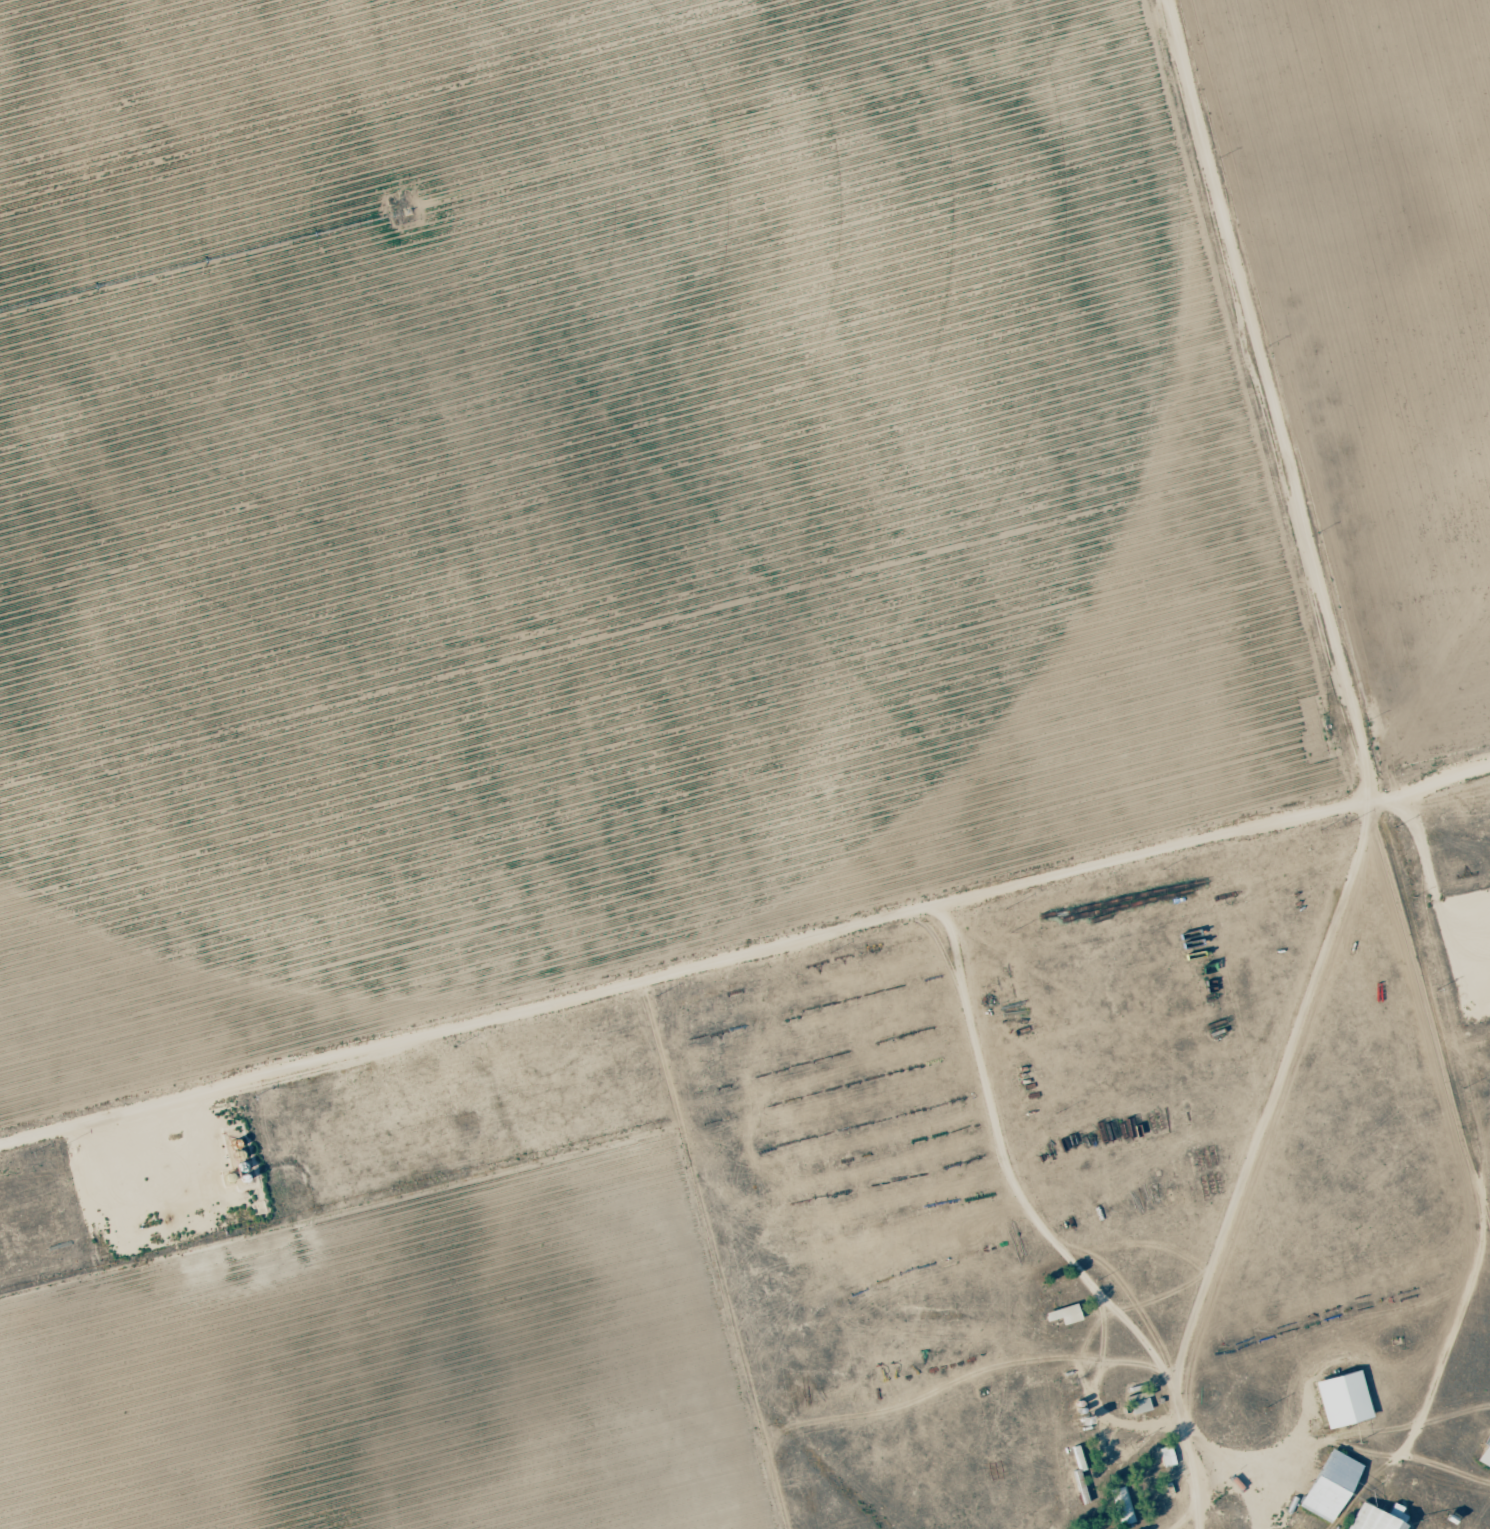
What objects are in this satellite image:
building: (1061, 1314)
building: (1339, 1398)
building: (1483, 1452)
building: (1325, 1484)
building: (1124, 1504)

